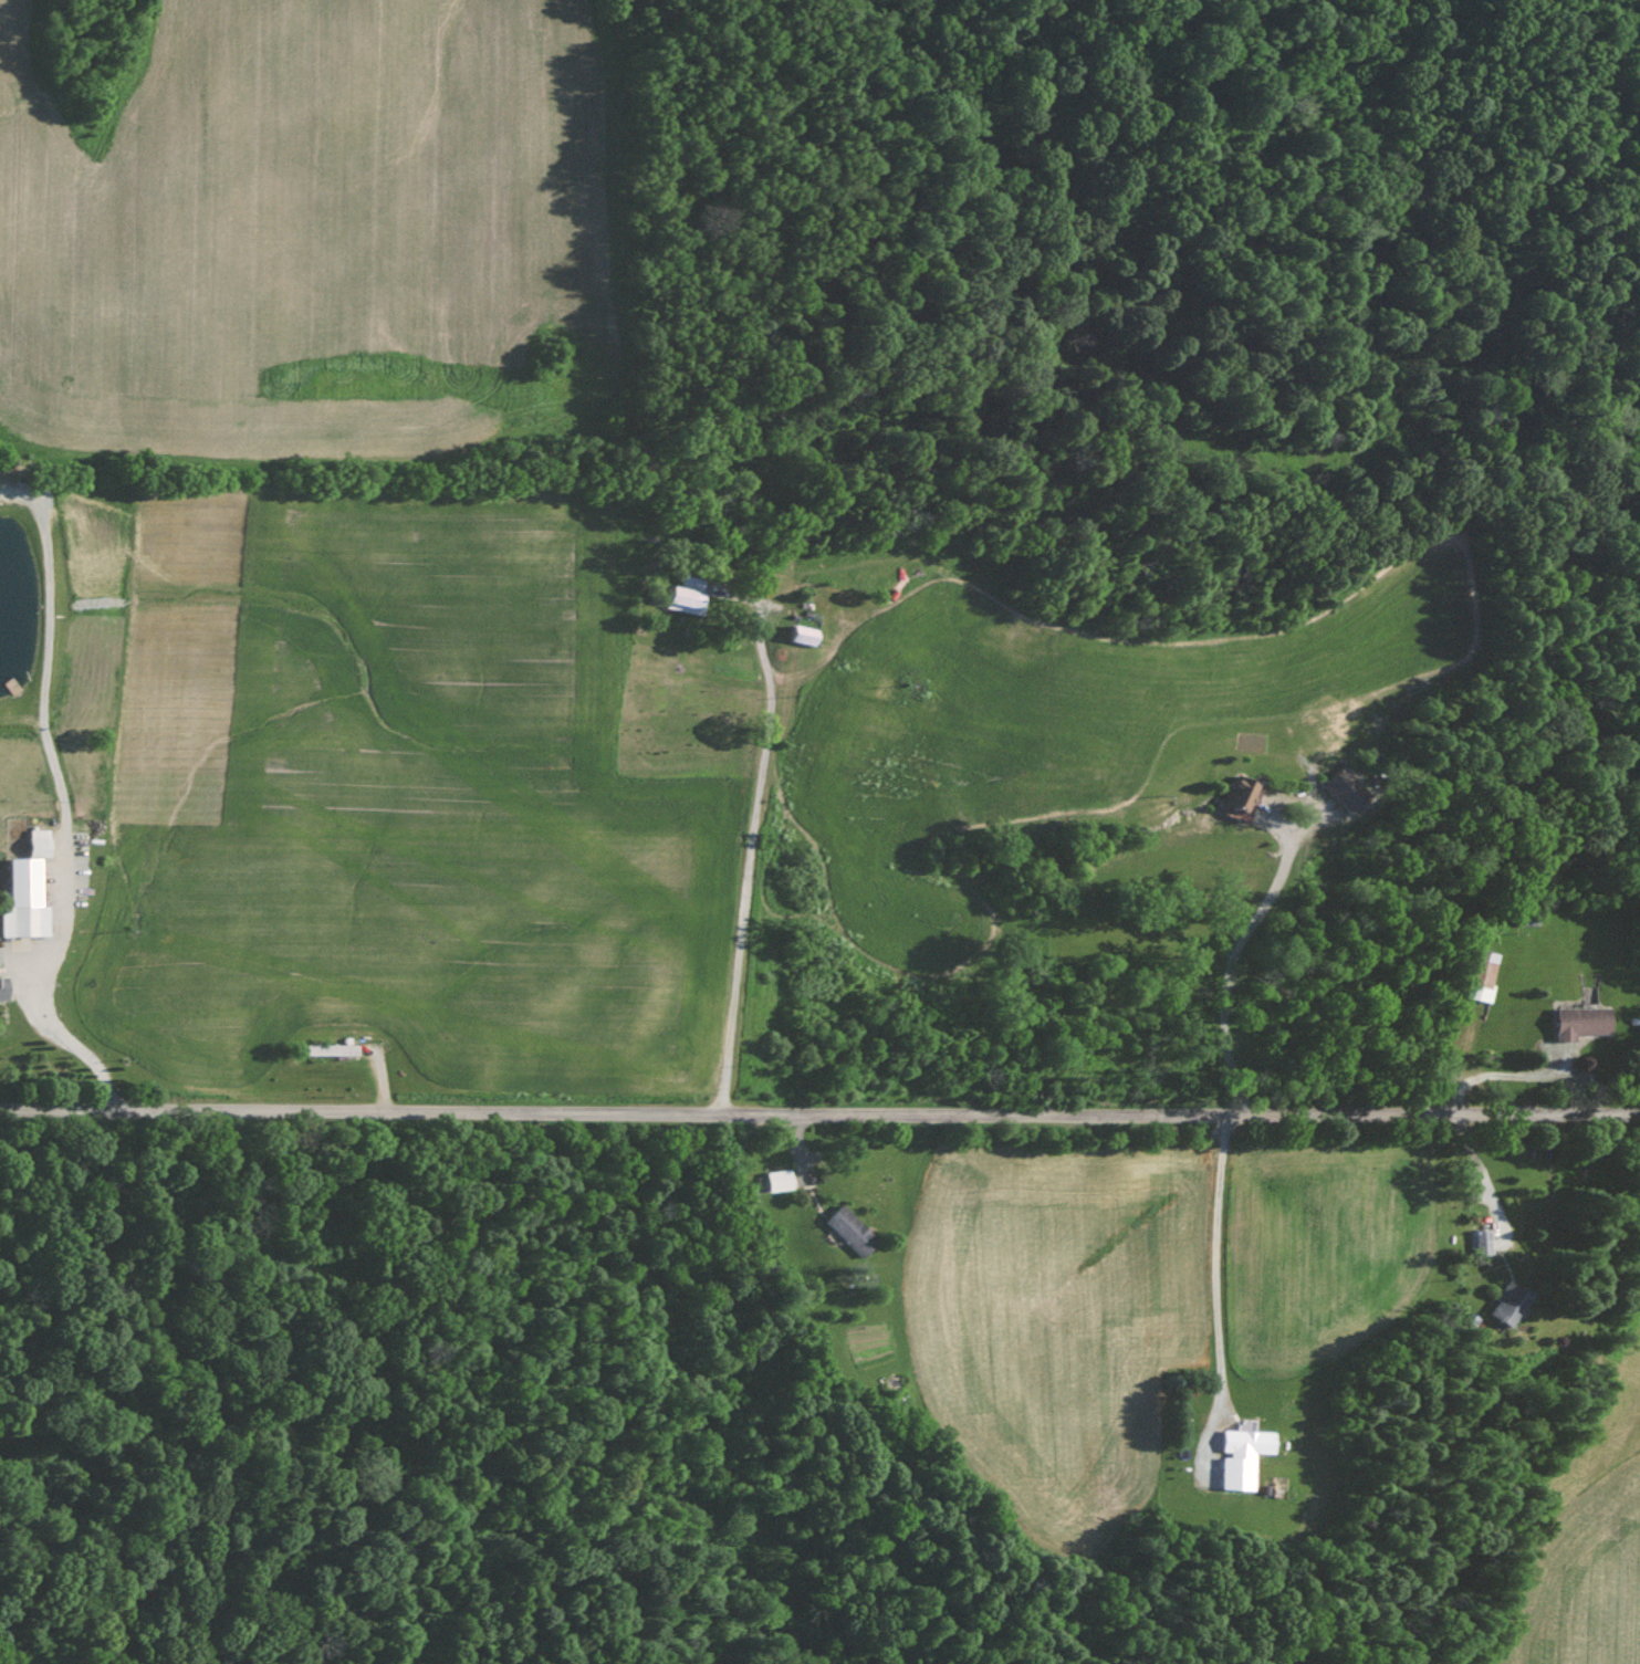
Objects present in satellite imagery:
building: (688, 594)
building: (805, 634)
building: (1345, 789)
building: (1243, 792)
road: (744, 823)
building: (40, 841)
building: (24, 900)
building: (1483, 975)
building: (4, 988)
building: (1582, 1022)
building: (333, 1049)
road: (819, 1114)
building: (780, 1180)
building: (854, 1231)
building: (1483, 1242)
building: (1511, 1304)
building: (1244, 1456)

